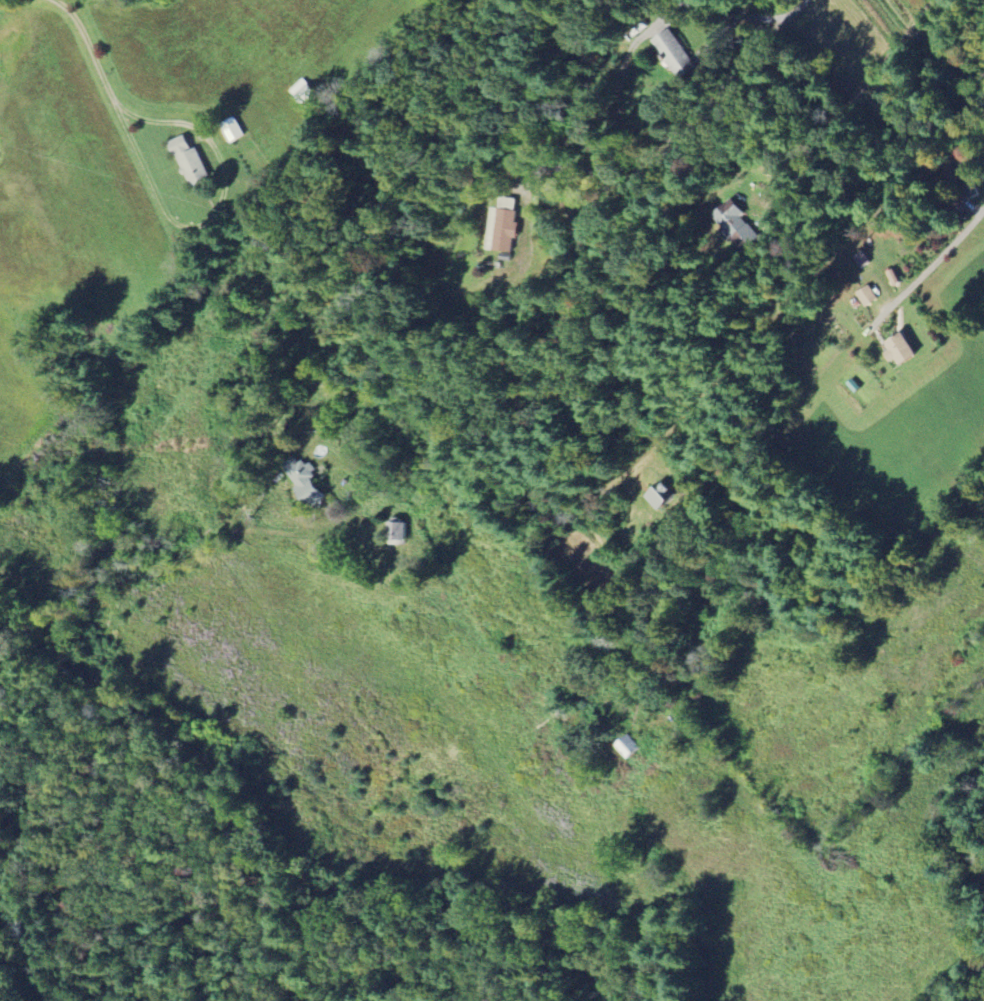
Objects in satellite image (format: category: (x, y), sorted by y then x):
road: (90, 49)
building: (677, 55)
road: (848, 102)
building: (193, 161)
road: (668, 165)
road: (215, 210)
building: (504, 226)
building: (740, 226)
road: (944, 253)
building: (864, 259)
building: (896, 277)
building: (868, 296)
building: (903, 349)
building: (310, 484)
building: (664, 496)
building: (400, 531)
building: (629, 747)

